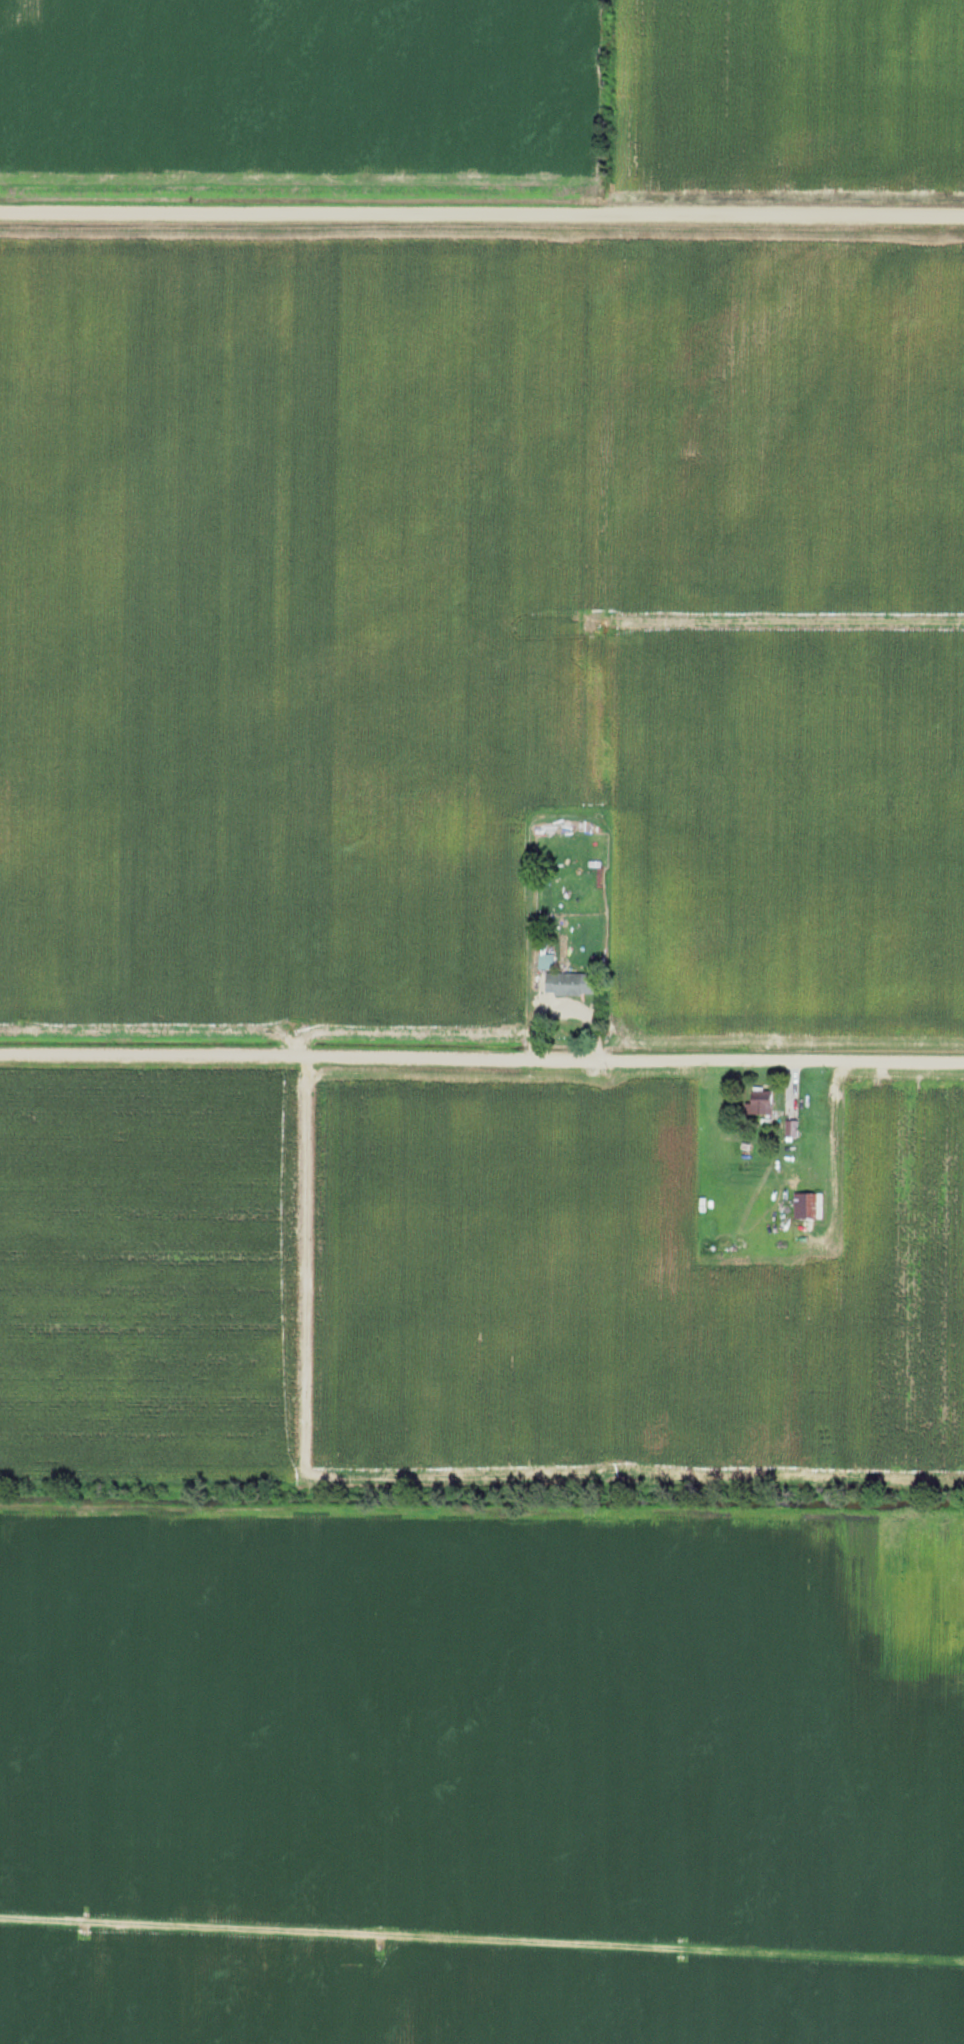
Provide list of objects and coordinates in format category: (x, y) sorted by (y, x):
road: (482, 213)
building: (566, 984)
road: (482, 1058)
road: (835, 1156)
building: (807, 1206)
road: (481, 1940)

